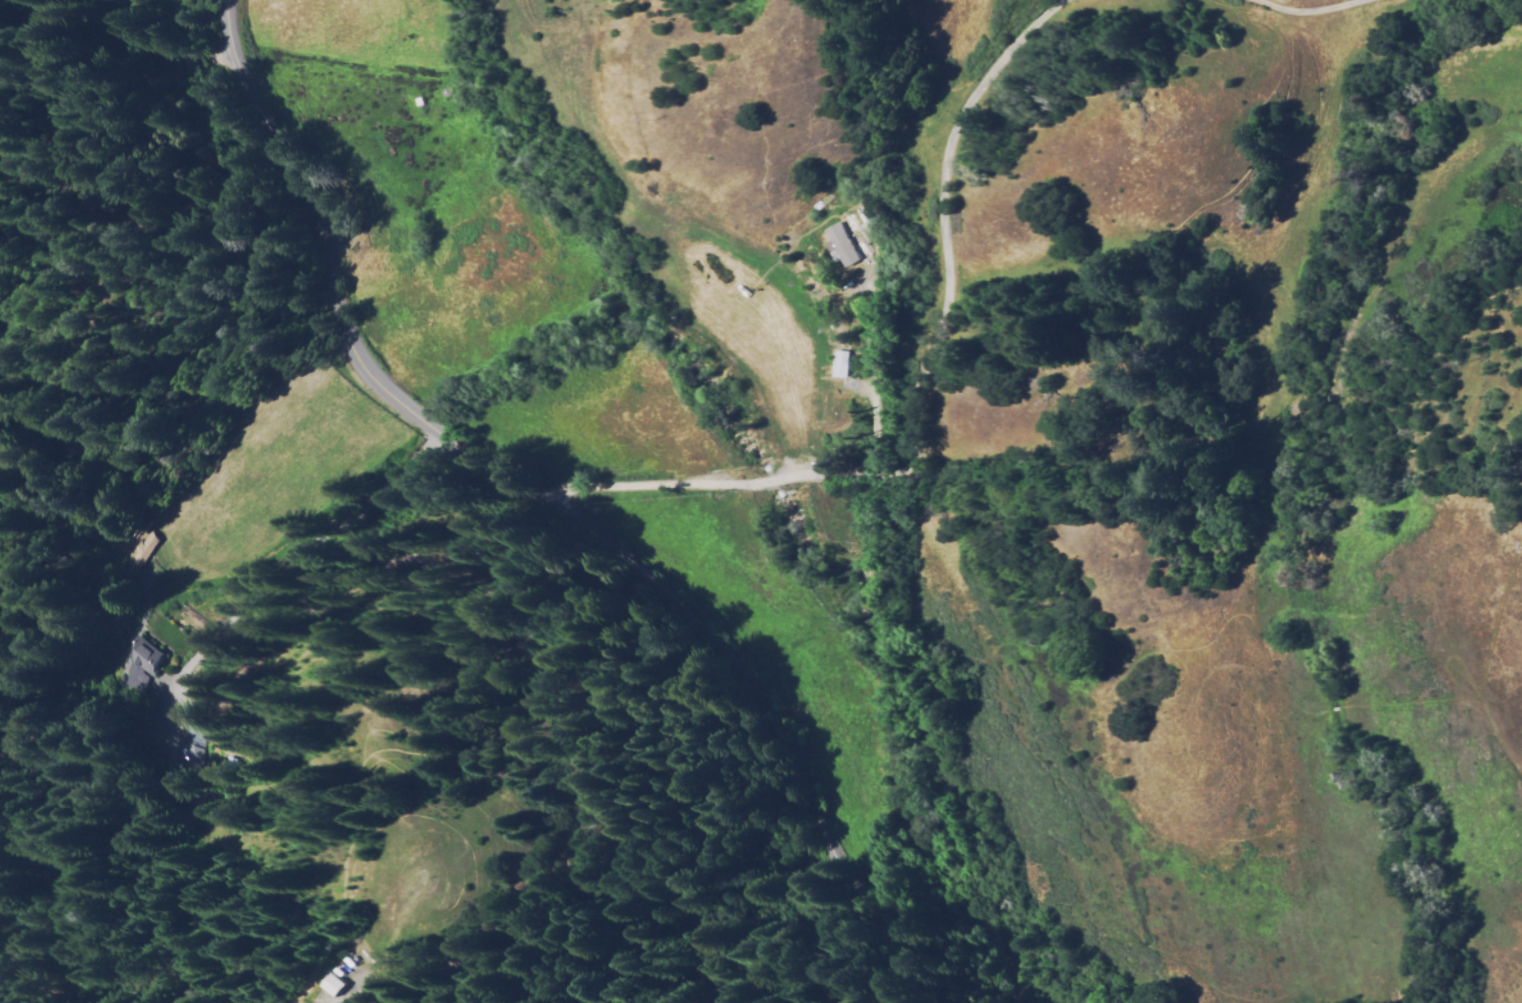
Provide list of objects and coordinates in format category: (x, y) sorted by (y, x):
road: (1297, 18)
building: (849, 237)
building: (842, 364)
road: (907, 389)
building: (837, 451)
road: (571, 524)
building: (137, 552)
building: (123, 582)
building: (138, 661)
building: (177, 731)
building: (167, 761)
building: (354, 961)
building: (332, 984)

